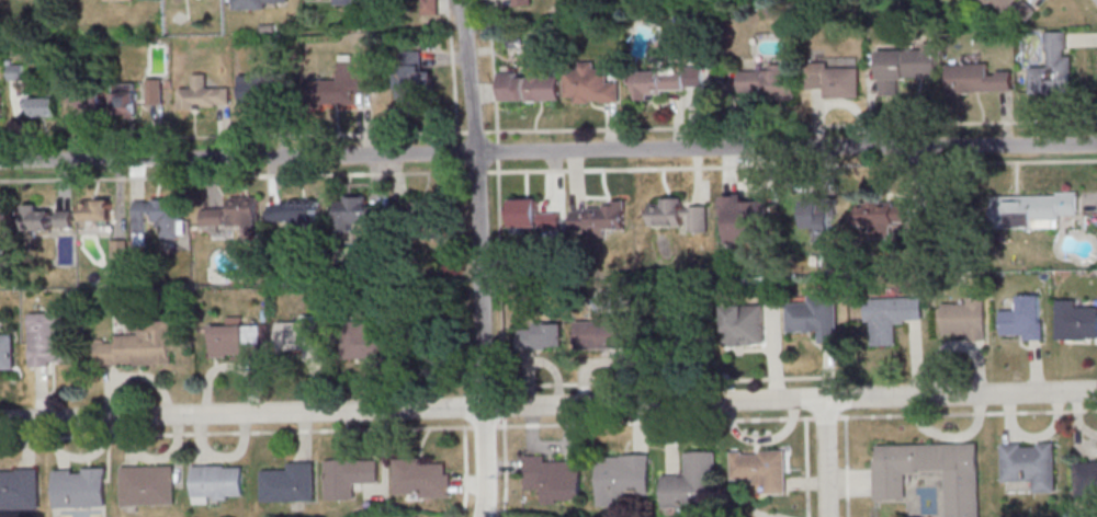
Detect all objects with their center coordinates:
building: (348, 1)
building: (260, 2)
building: (522, 2)
building: (999, 4)
building: (904, 67)
building: (1053, 67)
building: (835, 79)
building: (977, 79)
building: (414, 80)
building: (668, 80)
building: (768, 82)
building: (590, 84)
building: (343, 85)
building: (530, 85)
building: (260, 88)
building: (206, 91)
building: (125, 100)
building: (89, 101)
building: (0, 102)
building: (42, 105)
road: (548, 151)
building: (1033, 208)
building: (97, 209)
building: (246, 210)
building: (283, 210)
building: (355, 211)
building: (819, 214)
building: (677, 215)
building: (534, 216)
building: (882, 216)
building: (45, 217)
building: (158, 218)
building: (214, 218)
building: (744, 218)
building: (431, 219)
building: (599, 219)
building: (3, 221)
road: (479, 257)
building: (815, 315)
building: (890, 317)
road: (499, 318)
building: (965, 318)
building: (1024, 318)
building: (1075, 320)
building: (745, 324)
building: (603, 333)
building: (298, 336)
building: (540, 336)
building: (365, 338)
building: (49, 340)
building: (236, 341)
building: (138, 346)
building: (8, 354)
road: (667, 380)
road: (548, 405)
road: (968, 413)
road: (825, 416)
road: (406, 427)
road: (825, 457)
building: (1030, 463)
road: (846, 466)
road: (806, 467)
building: (760, 469)
road: (465, 471)
building: (1086, 472)
building: (349, 475)
building: (621, 476)
building: (420, 478)
building: (553, 479)
building: (218, 482)
building: (291, 483)
building: (692, 483)
building: (145, 485)
building: (962, 485)
building: (77, 487)
building: (18, 489)
building: (750, 516)

